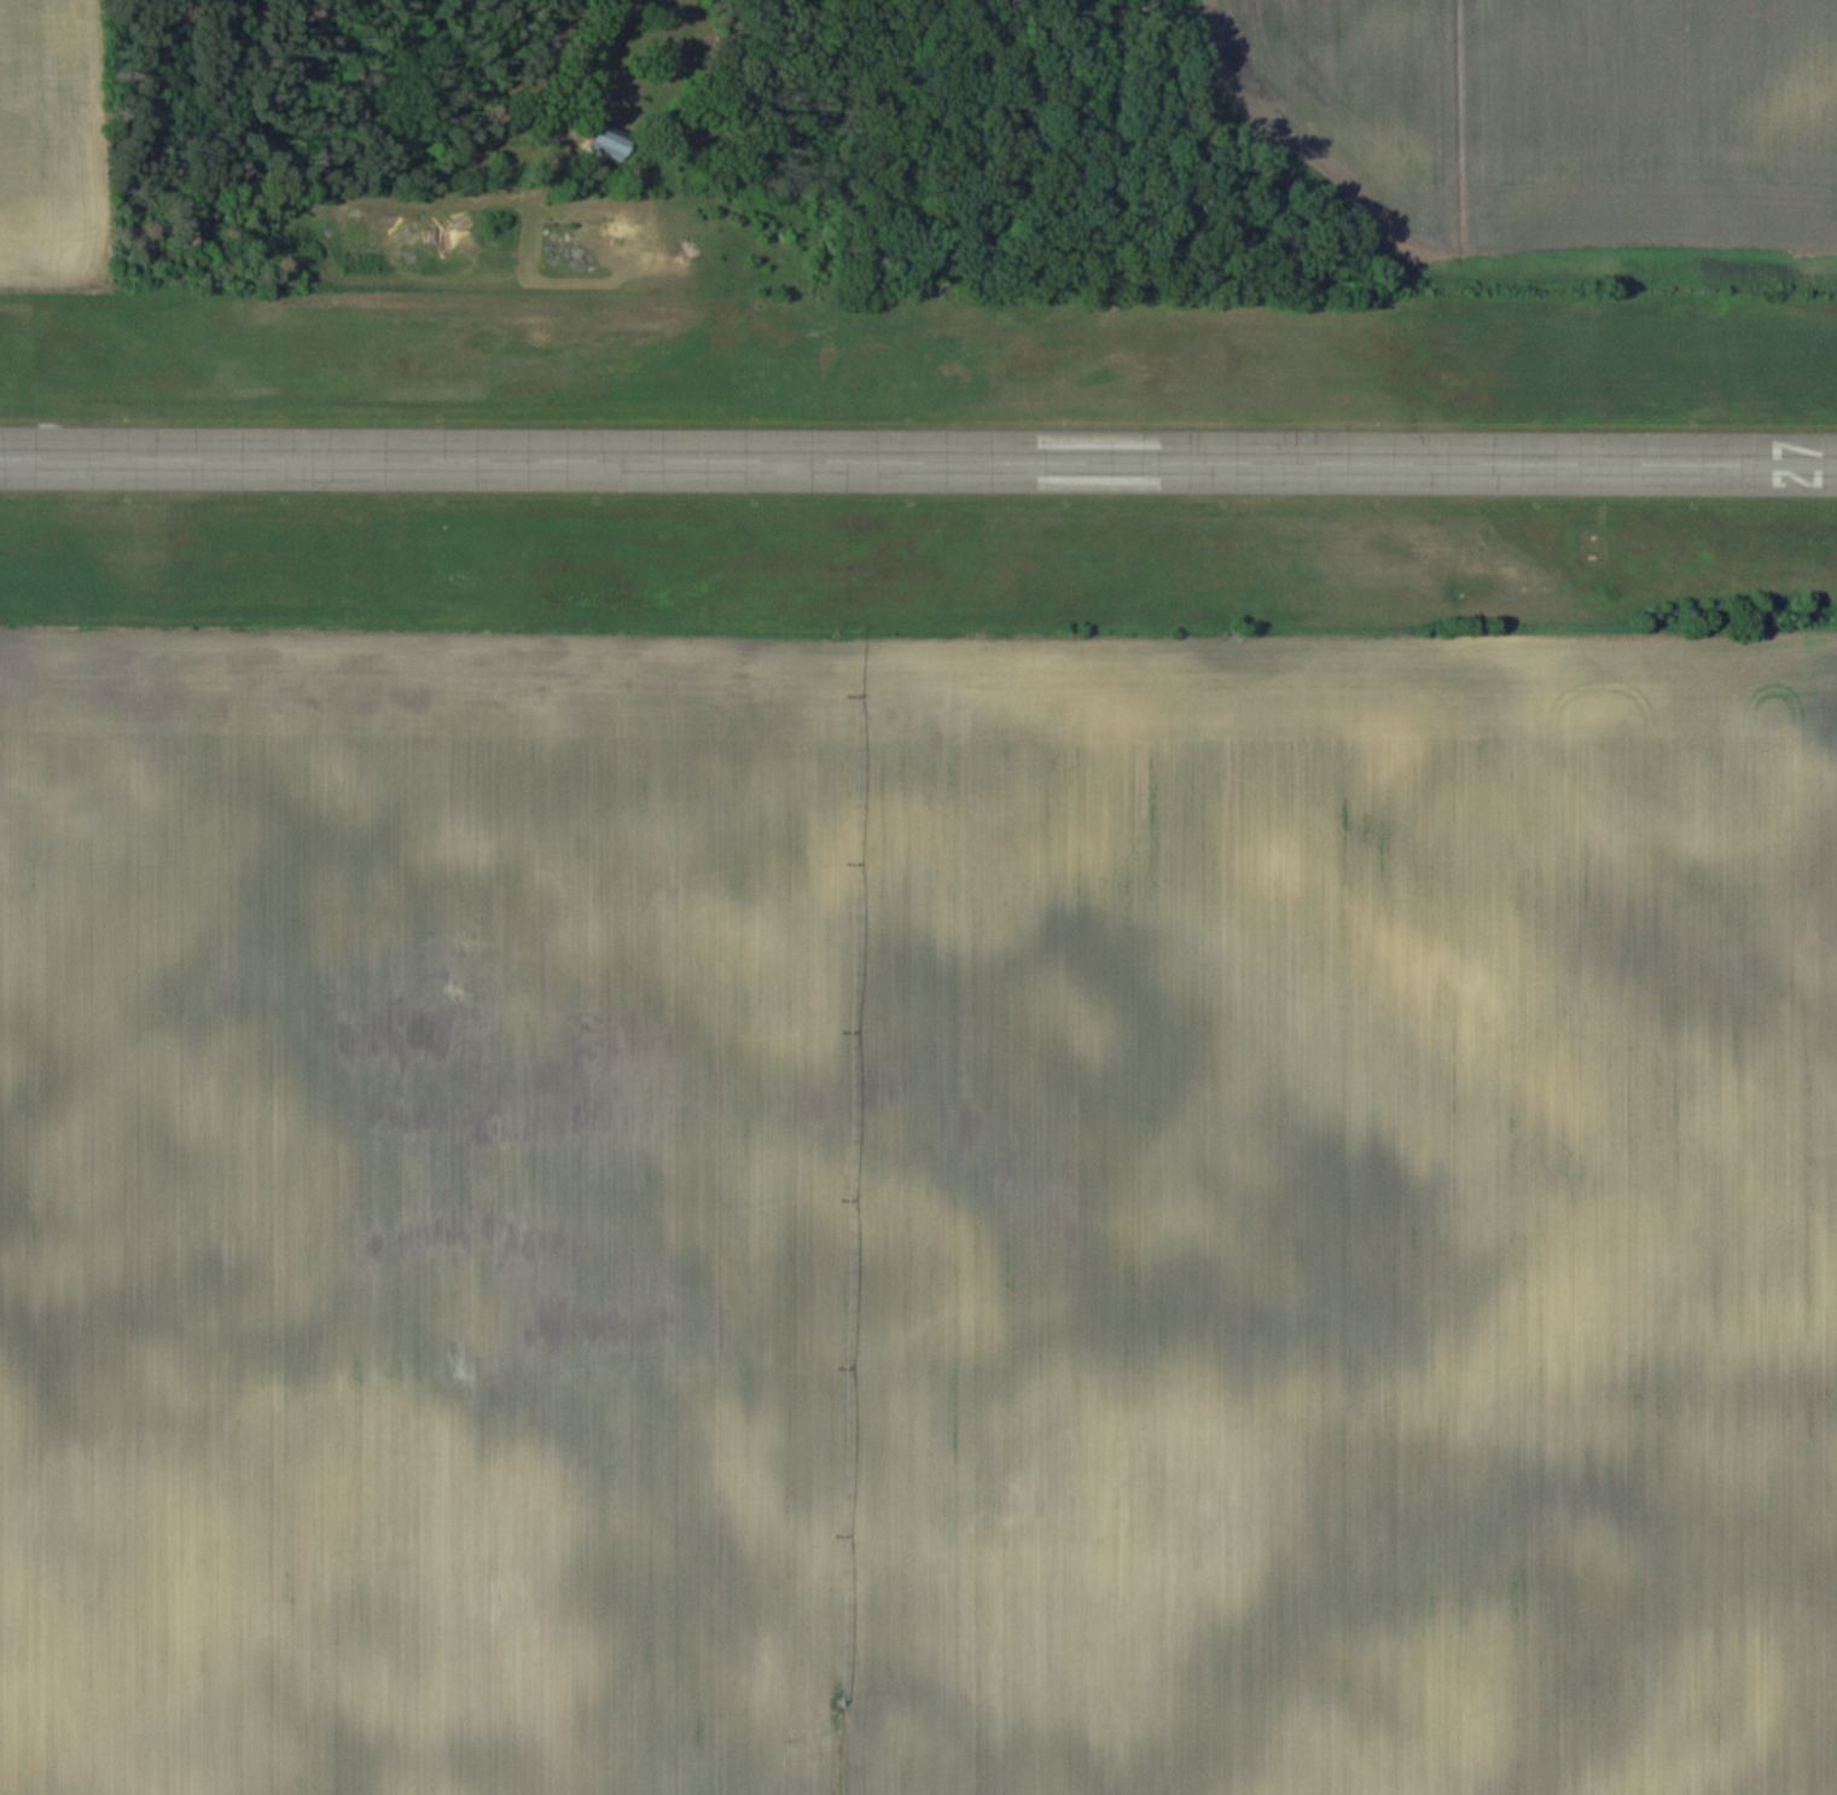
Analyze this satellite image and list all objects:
building: (603, 141)
airport runway: (918, 459)

